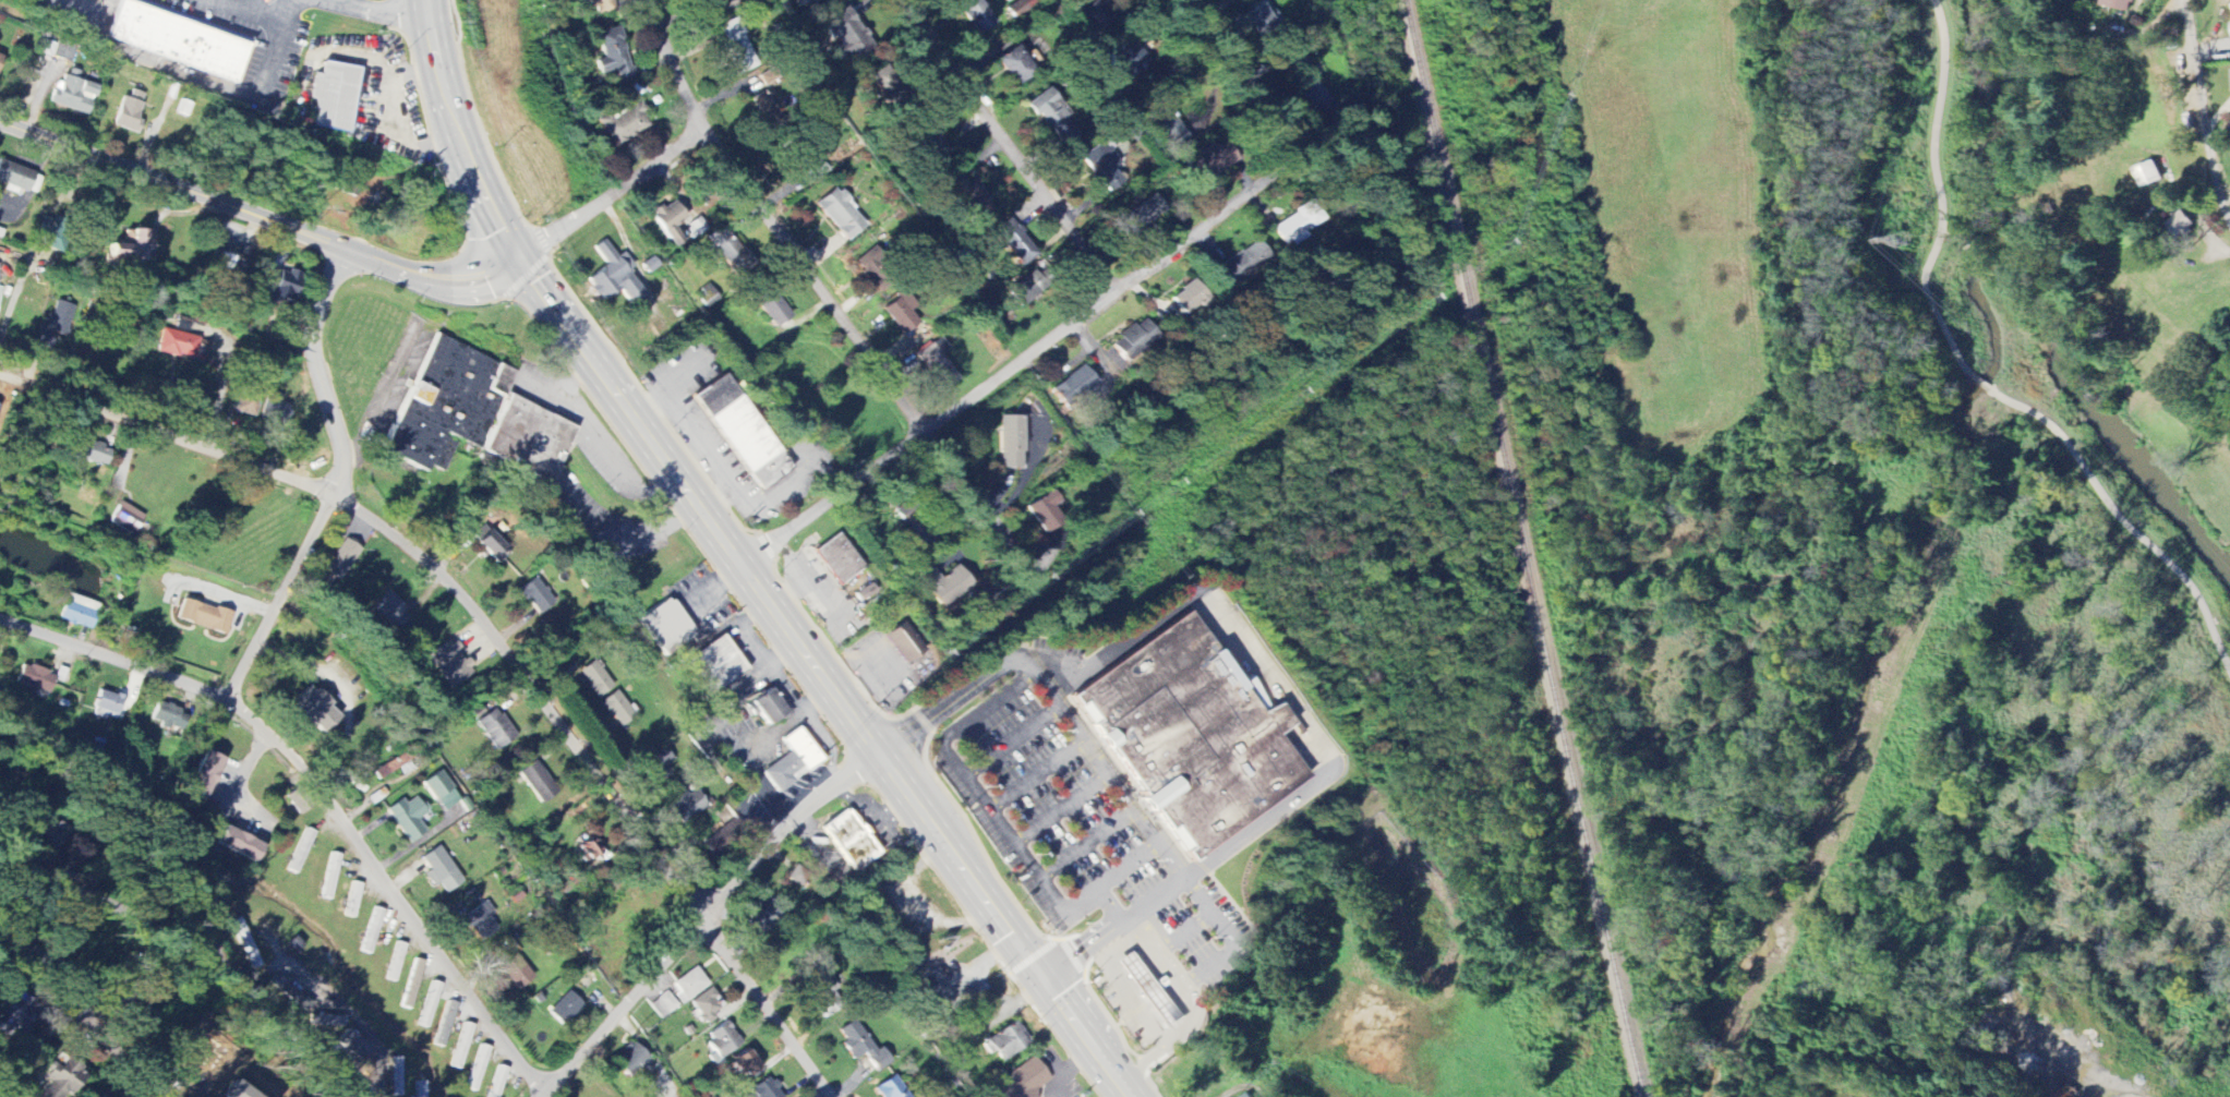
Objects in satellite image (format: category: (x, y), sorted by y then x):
building: (809, 2)
building: (725, 4)
building: (2118, 4)
building: (600, 7)
road: (374, 10)
road: (249, 11)
building: (1094, 13)
building: (977, 15)
building: (1259, 21)
building: (847, 37)
building: (178, 39)
building: (738, 48)
building: (614, 56)
building: (1132, 58)
building: (0, 59)
road: (676, 64)
building: (1016, 65)
road: (192, 77)
road: (1246, 77)
building: (888, 85)
building: (73, 94)
building: (1314, 96)
building: (335, 97)
building: (767, 111)
building: (130, 112)
road: (2201, 113)
building: (1056, 118)
road: (391, 120)
building: (625, 124)
building: (1170, 131)
road: (1008, 146)
building: (931, 148)
building: (1208, 164)
building: (1104, 168)
building: (2148, 176)
building: (15, 177)
road: (1940, 192)
road: (612, 194)
building: (969, 197)
building: (840, 215)
road: (257, 216)
building: (1142, 216)
building: (671, 221)
building: (1297, 225)
building: (2179, 227)
building: (695, 229)
power tower: (1903, 240)
building: (1015, 243)
building: (130, 249)
building: (730, 253)
building: (224, 256)
building: (1242, 263)
building: (614, 278)
building: (281, 287)
building: (1027, 289)
building: (1190, 299)
building: (774, 311)
building: (903, 315)
building: (56, 324)
building: (1134, 340)
road: (1046, 343)
building: (178, 345)
road: (877, 362)
building: (939, 365)
park: (1976, 365)
road: (1979, 381)
road: (220, 383)
building: (1073, 387)
building: (245, 405)
building: (275, 410)
road: (684, 419)
building: (742, 431)
building: (1010, 443)
building: (92, 451)
road: (337, 483)
road: (772, 492)
building: (1044, 513)
building: (128, 518)
road: (2121, 521)
building: (914, 525)
building: (494, 547)
railway: (1522, 548)
building: (343, 559)
building: (839, 559)
road: (733, 567)
building: (945, 584)
road: (220, 593)
building: (537, 596)
building: (390, 611)
building: (79, 612)
building: (204, 616)
building: (666, 627)
road: (497, 632)
building: (905, 643)
building: (451, 663)
building: (718, 665)
road: (1270, 677)
building: (35, 678)
building: (595, 679)
road: (342, 690)
building: (108, 703)
building: (769, 708)
building: (617, 709)
building: (315, 710)
building: (169, 718)
building: (495, 730)
building: (793, 761)
building: (658, 764)
road: (1104, 767)
building: (205, 774)
building: (538, 783)
road: (325, 791)
building: (442, 792)
building: (687, 805)
building: (408, 818)
building: (47, 833)
building: (851, 841)
building: (239, 845)
building: (590, 851)
road: (3, 859)
building: (441, 871)
building: (352, 900)
road: (1212, 912)
road: (703, 920)
building: (480, 923)
road: (1158, 960)
road: (196, 962)
road: (1215, 965)
building: (517, 973)
building: (412, 985)
building: (689, 986)
building: (286, 989)
road: (330, 991)
building: (1150, 993)
building: (823, 998)
road: (1190, 1003)
building: (430, 1005)
building: (664, 1005)
building: (706, 1006)
building: (566, 1009)
building: (16, 1015)
road: (84, 1024)
building: (444, 1025)
building: (1009, 1041)
building: (722, 1042)
building: (353, 1046)
building: (461, 1047)
building: (863, 1047)
road: (1162, 1047)
building: (631, 1061)
building: (744, 1064)
building: (478, 1069)
building: (396, 1077)
building: (64, 1080)
road: (1125, 1080)
building: (497, 1082)
building: (1022, 1082)
building: (767, 1088)
building: (893, 1088)
building: (238, 1090)
building: (1250, 1096)

